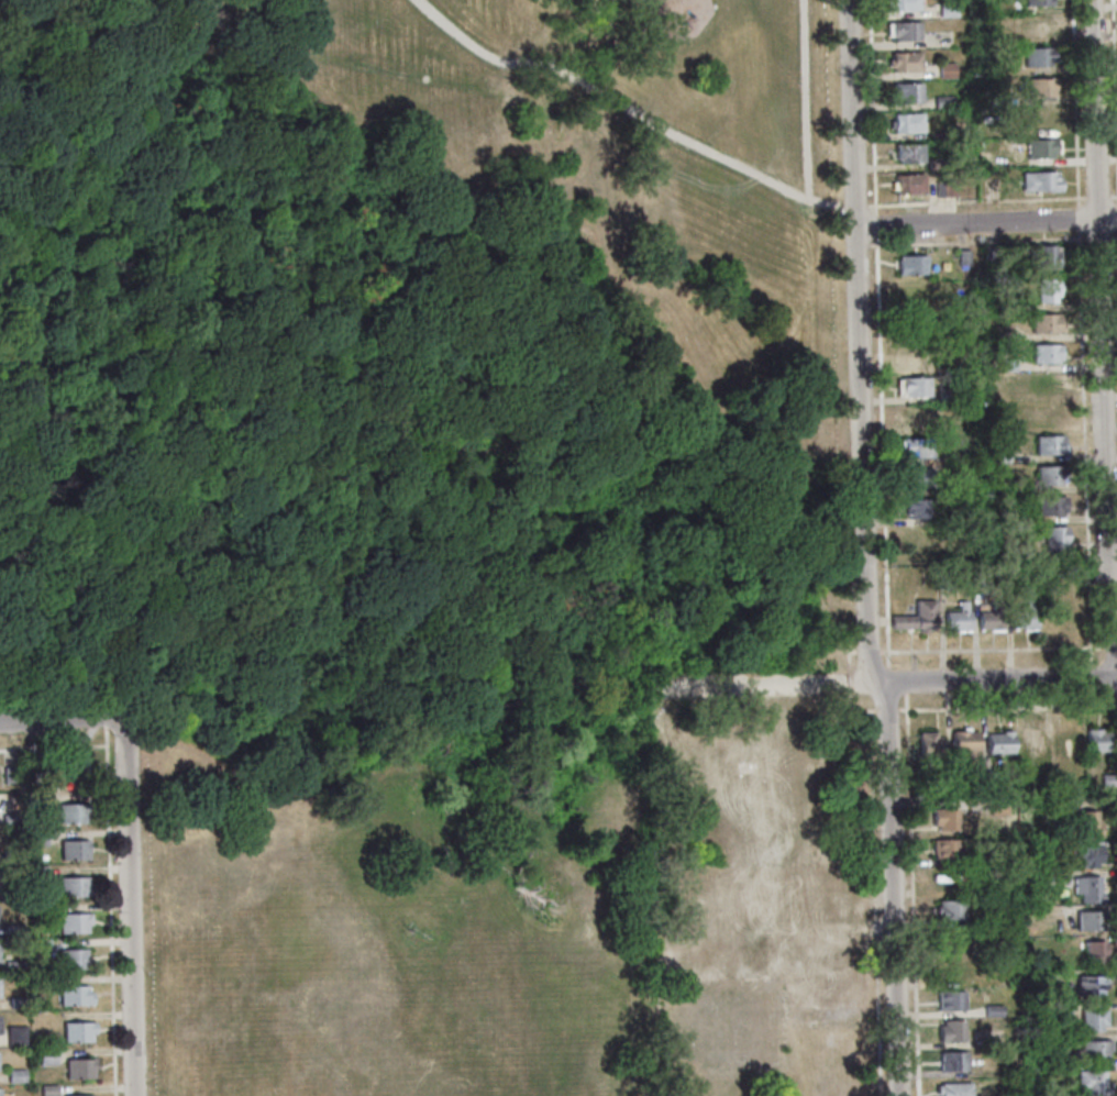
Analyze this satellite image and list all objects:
building: (1039, 2)
building: (905, 4)
building: (949, 9)
road: (759, 14)
building: (1037, 25)
building: (904, 30)
building: (1008, 36)
building: (1039, 56)
building: (904, 60)
building: (948, 70)
road: (1114, 81)
building: (1040, 86)
building: (907, 91)
road: (806, 98)
building: (943, 100)
building: (997, 100)
road: (631, 111)
building: (1040, 117)
building: (906, 122)
building: (1043, 147)
building: (909, 152)
building: (1041, 180)
building: (910, 184)
building: (945, 184)
road: (1113, 196)
road: (1097, 197)
road: (976, 200)
road: (861, 204)
road: (986, 223)
road: (1114, 236)
road: (1098, 237)
road: (971, 242)
building: (991, 256)
building: (1049, 256)
building: (963, 257)
building: (911, 265)
building: (1048, 290)
building: (1047, 323)
road: (1101, 326)
road: (878, 333)
building: (1002, 333)
road: (1082, 352)
building: (1046, 353)
building: (914, 356)
building: (1007, 365)
building: (944, 366)
building: (1044, 384)
building: (915, 385)
building: (945, 395)
building: (1047, 413)
building: (916, 417)
building: (948, 428)
building: (1049, 445)
building: (915, 449)
road: (66, 452)
building: (999, 456)
building: (955, 457)
road: (351, 467)
building: (1049, 474)
building: (917, 478)
park: (410, 485)
building: (1002, 487)
building: (1050, 505)
building: (918, 508)
building: (918, 538)
building: (1054, 538)
road: (864, 549)
building: (1018, 550)
building: (943, 580)
building: (977, 580)
building: (1060, 615)
building: (916, 616)
building: (1024, 617)
building: (989, 618)
building: (956, 619)
road: (1002, 649)
road: (849, 651)
road: (870, 651)
road: (885, 651)
road: (849, 660)
road: (995, 679)
road: (898, 680)
road: (850, 682)
road: (789, 684)
road: (712, 694)
road: (850, 702)
road: (1008, 706)
road: (1116, 707)
road: (887, 709)
road: (797, 711)
road: (64, 718)
building: (1098, 740)
building: (963, 741)
building: (1068, 741)
building: (998, 743)
building: (1031, 743)
building: (928, 744)
road: (53, 745)
building: (33, 763)
building: (69, 768)
building: (11, 774)
building: (986, 778)
building: (952, 779)
building: (1107, 781)
building: (932, 783)
building: (34, 800)
building: (997, 809)
building: (71, 812)
building: (944, 819)
building: (10, 820)
building: (1087, 823)
building: (36, 837)
building: (767, 841)
building: (1043, 846)
building: (945, 849)
building: (74, 851)
building: (10, 855)
building: (1087, 856)
building: (37, 871)
building: (8, 875)
building: (947, 879)
building: (74, 887)
building: (1087, 889)
road: (913, 895)
road: (874, 903)
road: (110, 905)
road: (654, 907)
road: (130, 909)
building: (950, 909)
building: (1088, 920)
building: (74, 921)
building: (13, 930)
building: (949, 940)
building: (41, 943)
building: (994, 944)
building: (1094, 953)
building: (744, 954)
building: (71, 959)
building: (13, 966)
building: (953, 970)
building: (1037, 976)
building: (41, 981)
building: (1090, 985)
building: (0, 988)
building: (815, 989)
building: (74, 996)
building: (950, 1000)
building: (18, 1003)
building: (1060, 1008)
building: (993, 1010)
building: (1092, 1019)
building: (77, 1031)
building: (951, 1031)
building: (15, 1034)
building: (1055, 1045)
building: (1092, 1050)
building: (46, 1056)
building: (952, 1061)
building: (78, 1069)
building: (15, 1075)
building: (1092, 1082)
building: (953, 1089)
building: (47, 1091)
building: (0, 1092)
building: (81, 1095)

